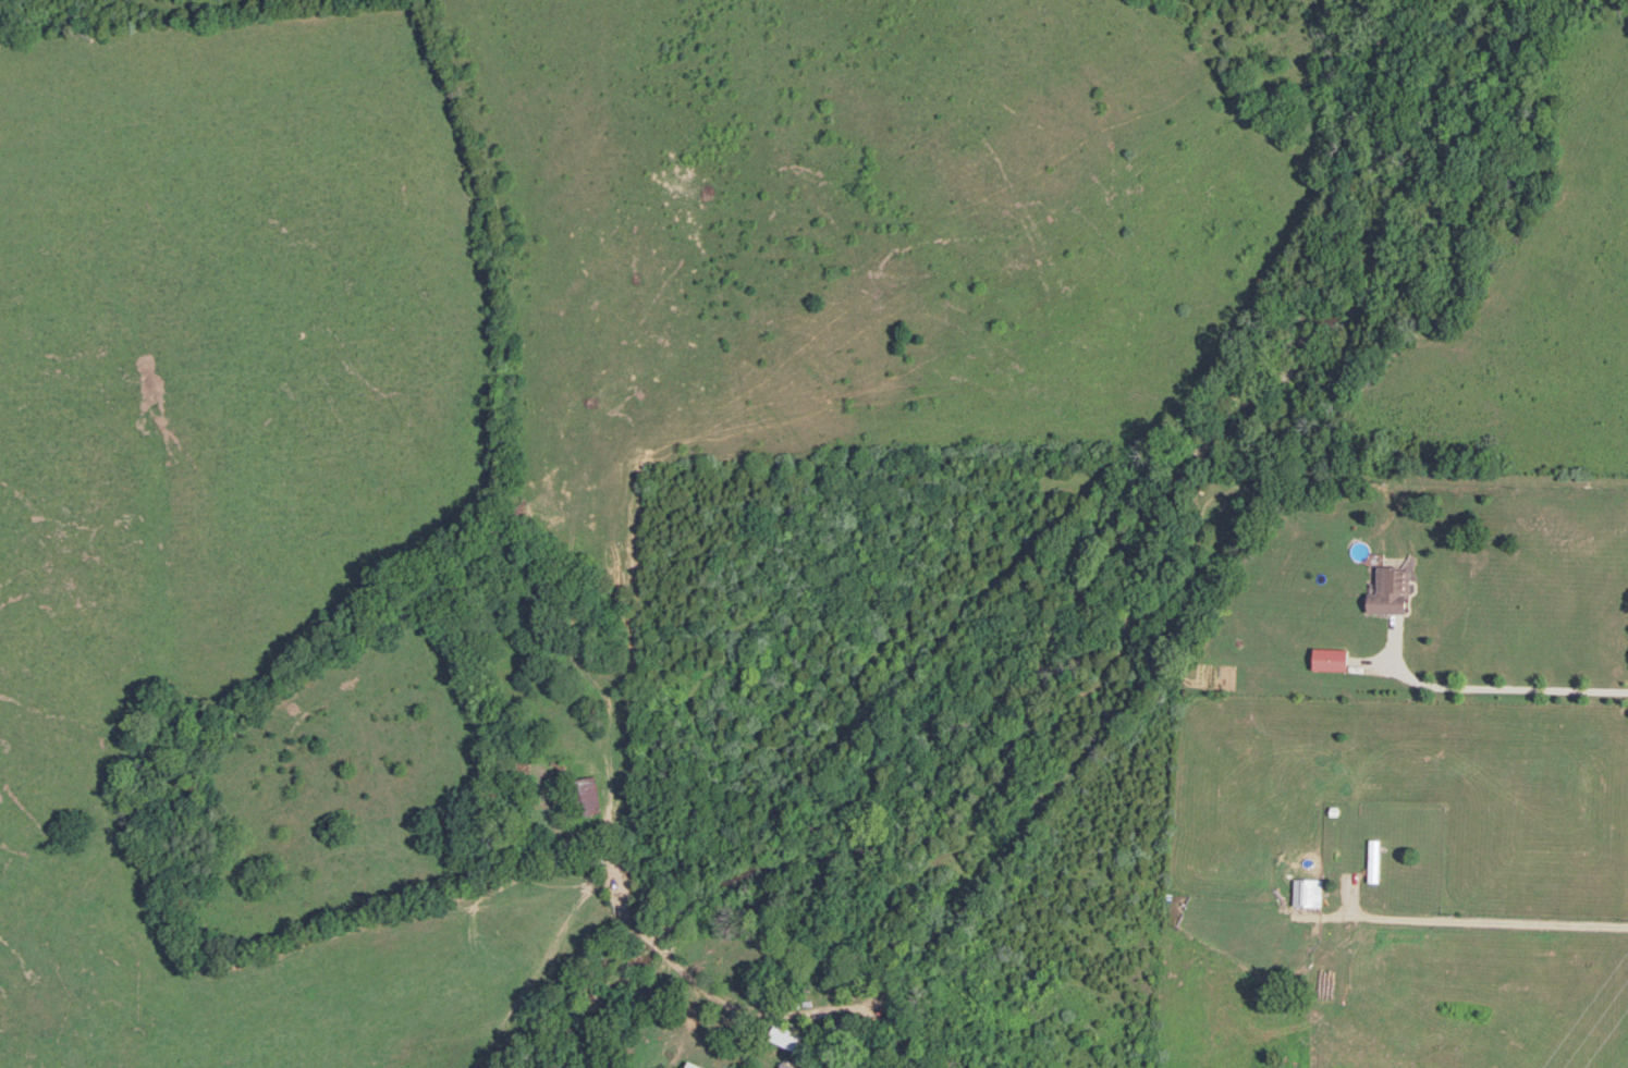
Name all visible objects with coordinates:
building: (1392, 590)
building: (1342, 652)
building: (587, 795)
building: (1371, 860)
building: (1307, 892)
road: (880, 953)
building: (788, 1036)
building: (695, 1065)
building: (788, 1065)

